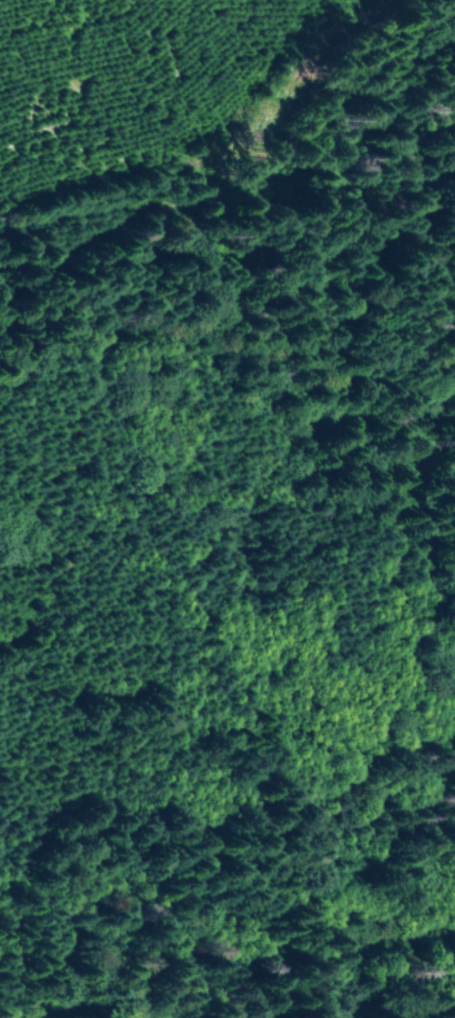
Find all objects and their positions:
road: (223, 200)

